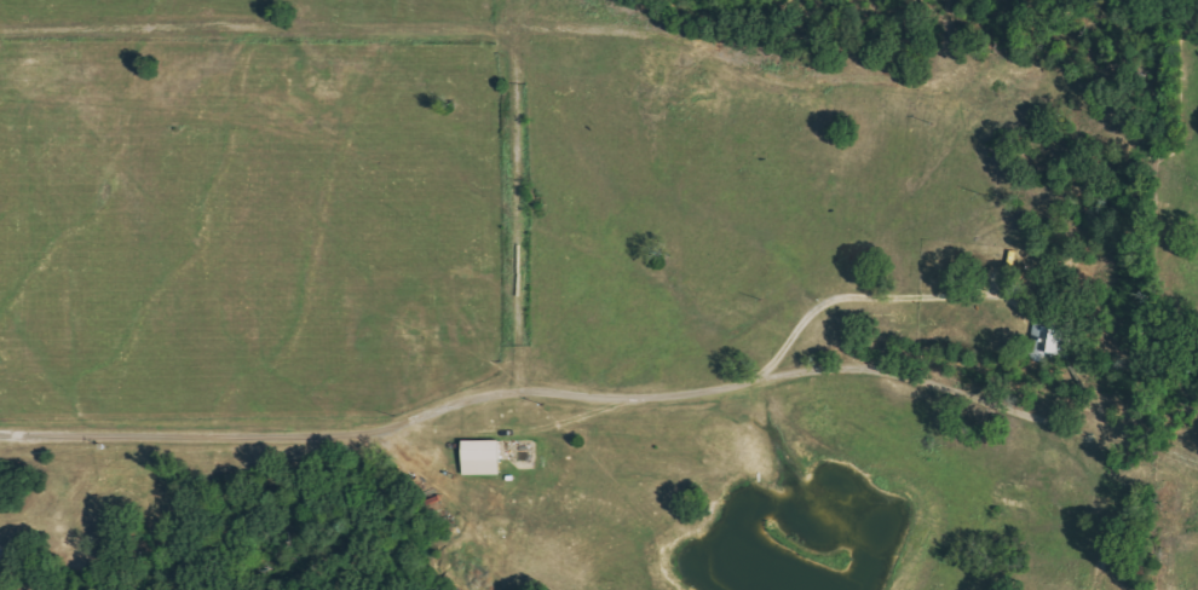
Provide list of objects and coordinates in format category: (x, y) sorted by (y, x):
road: (257, 29)
road: (869, 297)
road: (862, 368)
road: (451, 404)
building: (479, 458)

